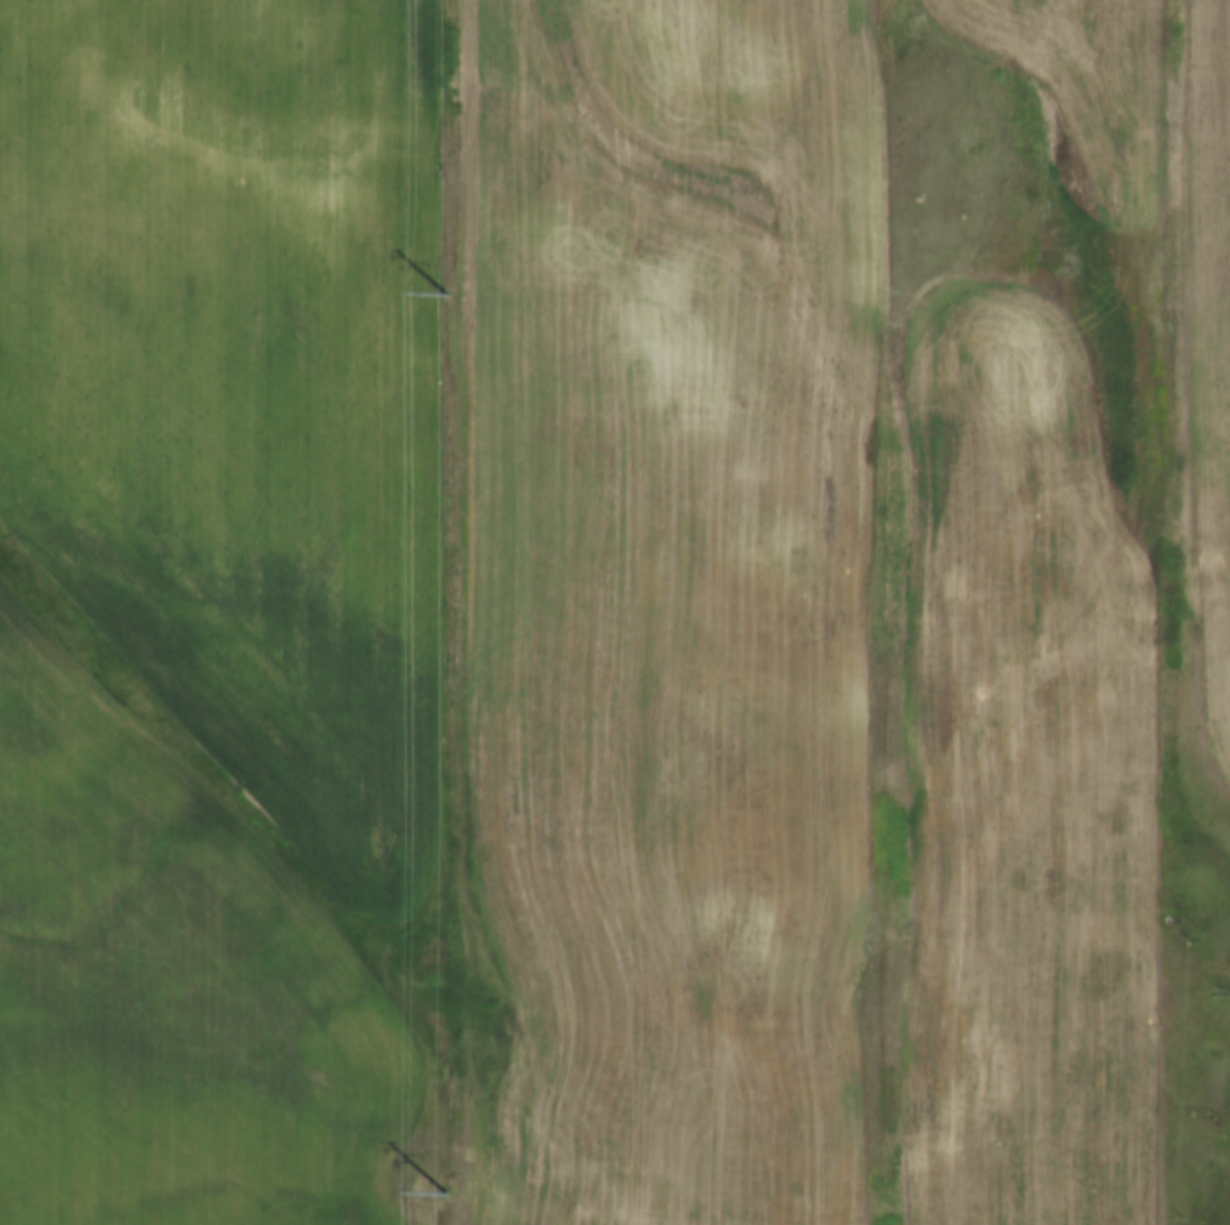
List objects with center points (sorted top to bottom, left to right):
power tower: (452, 290)
power tower: (461, 1191)

